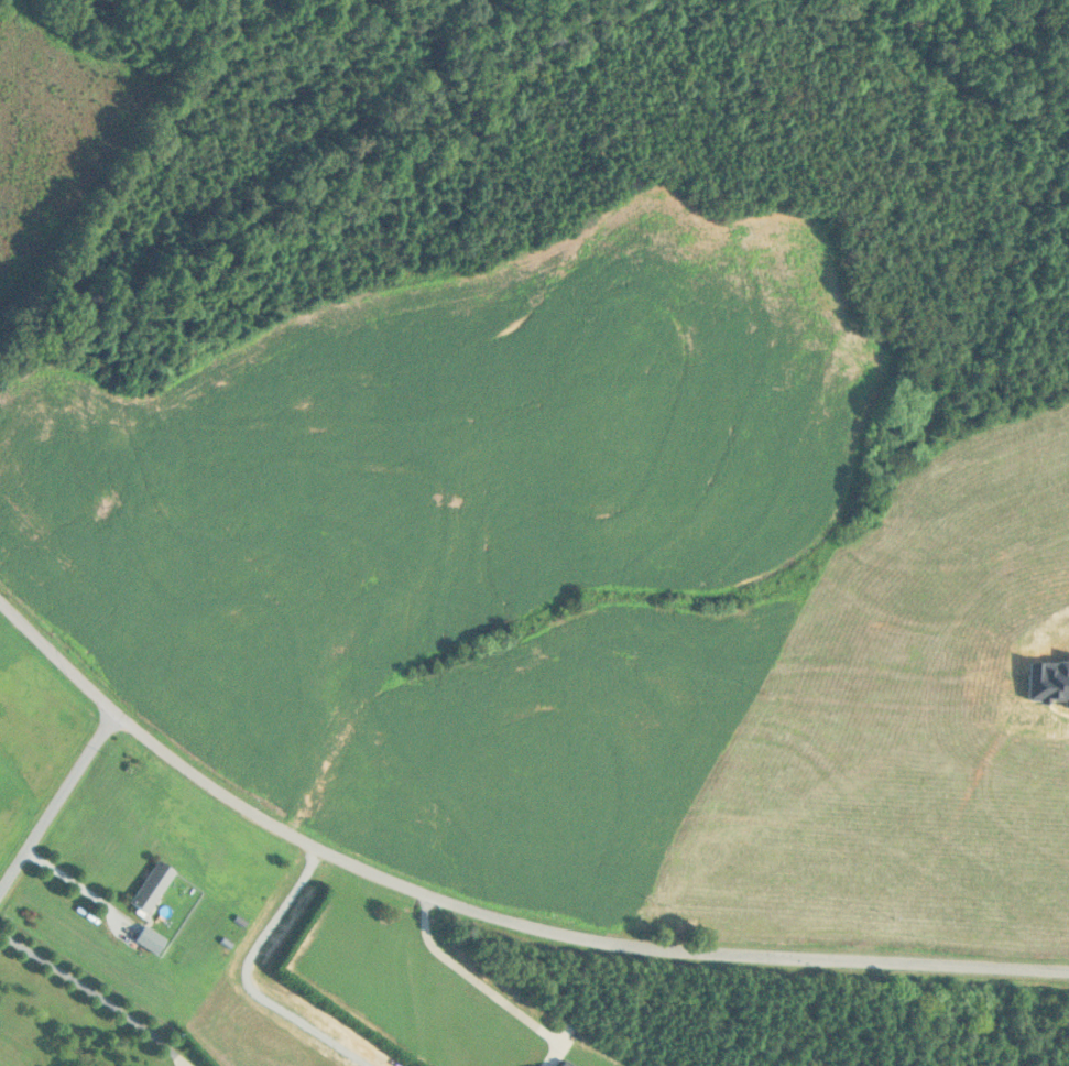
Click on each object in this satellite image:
road: (61, 803)
building: (153, 888)
road: (486, 906)
building: (151, 940)
road: (97, 993)

